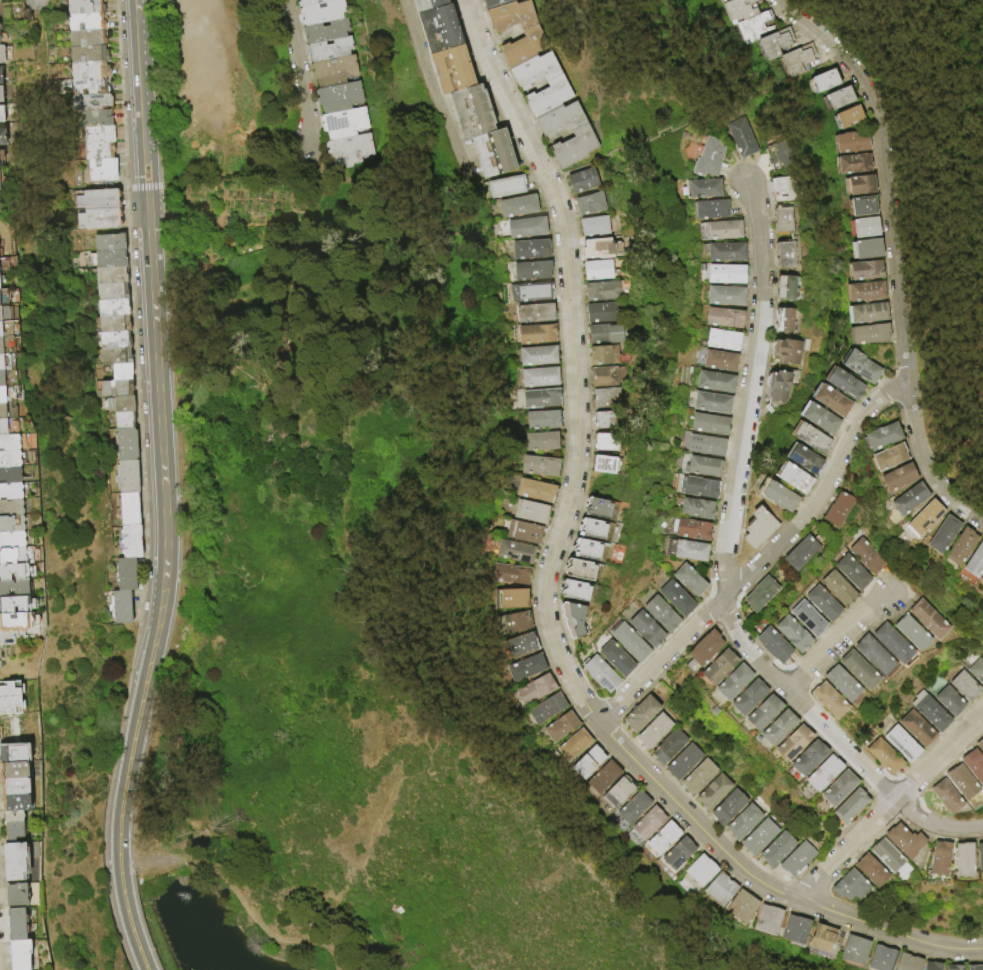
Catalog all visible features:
road: (37, 2)
building: (710, 2)
building: (312, 3)
building: (421, 4)
building: (500, 5)
building: (83, 7)
building: (322, 13)
building: (729, 14)
building: (511, 19)
building: (85, 22)
building: (434, 30)
building: (325, 32)
building: (742, 33)
building: (0, 37)
building: (86, 38)
road: (950, 46)
building: (523, 48)
building: (762, 49)
building: (328, 50)
building: (1, 54)
building: (87, 54)
park: (220, 64)
building: (785, 65)
road: (298, 68)
building: (89, 71)
building: (333, 72)
building: (533, 72)
building: (448, 73)
building: (0, 77)
building: (88, 87)
building: (812, 87)
road: (432, 93)
building: (0, 94)
building: (839, 97)
building: (338, 98)
building: (547, 98)
building: (90, 102)
building: (827, 105)
building: (1, 114)
building: (468, 115)
building: (847, 116)
building: (95, 119)
building: (559, 122)
building: (343, 124)
building: (838, 124)
building: (99, 135)
building: (2, 136)
building: (740, 139)
road: (728, 147)
building: (573, 149)
building: (842, 149)
building: (98, 151)
building: (348, 151)
building: (489, 155)
building: (776, 155)
building: (0, 159)
building: (704, 161)
building: (844, 169)
building: (101, 170)
building: (583, 181)
building: (505, 184)
building: (858, 184)
road: (144, 187)
building: (782, 191)
building: (700, 192)
building: (851, 192)
park: (935, 198)
building: (97, 201)
building: (516, 204)
building: (591, 204)
building: (708, 213)
building: (852, 213)
park: (646, 215)
building: (97, 221)
building: (781, 221)
building: (525, 226)
building: (595, 226)
building: (864, 226)
building: (720, 232)
building: (855, 235)
building: (107, 244)
building: (529, 248)
building: (598, 250)
building: (857, 251)
building: (724, 253)
building: (785, 254)
road: (895, 255)
building: (108, 261)
building: (856, 266)
building: (530, 268)
building: (597, 270)
building: (724, 274)
building: (109, 277)
building: (784, 287)
building: (856, 287)
building: (532, 289)
building: (603, 291)
building: (109, 293)
building: (724, 295)
road: (152, 308)
building: (110, 309)
building: (859, 309)
building: (533, 311)
building: (601, 312)
building: (4, 313)
building: (722, 317)
building: (781, 319)
building: (112, 325)
building: (5, 328)
building: (861, 330)
building: (535, 333)
building: (603, 334)
building: (719, 339)
building: (112, 341)
building: (1, 346)
building: (784, 351)
building: (537, 354)
building: (600, 355)
building: (113, 357)
building: (717, 359)
building: (4, 362)
building: (853, 363)
building: (119, 373)
building: (537, 375)
building: (604, 376)
building: (2, 378)
building: (836, 379)
building: (712, 381)
building: (773, 388)
building: (114, 389)
building: (7, 394)
building: (823, 396)
building: (539, 398)
building: (606, 398)
building: (708, 401)
building: (122, 405)
building: (7, 411)
building: (812, 415)
building: (540, 419)
building: (605, 420)
building: (122, 421)
building: (705, 422)
building: (8, 427)
building: (876, 433)
building: (803, 436)
building: (539, 441)
building: (604, 442)
building: (9, 443)
building: (700, 443)
building: (124, 445)
building: (881, 454)
building: (798, 458)
building: (10, 459)
building: (602, 465)
building: (699, 465)
building: (537, 466)
building: (10, 475)
building: (890, 475)
building: (788, 476)
building: (126, 477)
building: (695, 486)
road: (141, 488)
building: (532, 489)
building: (10, 491)
building: (771, 494)
building: (902, 496)
building: (690, 506)
building: (11, 508)
building: (601, 508)
building: (831, 509)
building: (127, 510)
building: (526, 510)
building: (916, 516)
building: (11, 524)
building: (752, 526)
building: (593, 528)
building: (686, 528)
building: (517, 530)
building: (934, 530)
building: (942, 533)
building: (12, 540)
building: (949, 540)
building: (129, 543)
building: (960, 546)
building: (587, 548)
building: (683, 549)
building: (508, 550)
building: (860, 550)
building: (794, 551)
building: (967, 553)
building: (16, 556)
road: (763, 558)
building: (846, 566)
building: (581, 569)
road: (723, 569)
building: (977, 570)
building: (16, 572)
building: (503, 572)
building: (124, 575)
building: (689, 579)
building: (832, 582)
road: (545, 585)
building: (15, 588)
building: (577, 590)
building: (752, 592)
building: (502, 596)
building: (677, 597)
building: (817, 598)
building: (17, 603)
building: (120, 609)
building: (661, 613)
building: (802, 613)
building: (921, 615)
building: (573, 618)
building: (17, 620)
building: (503, 620)
building: (646, 628)
building: (787, 628)
building: (904, 629)
building: (885, 639)
building: (768, 640)
building: (516, 641)
building: (629, 641)
road: (836, 641)
building: (705, 644)
building: (866, 651)
building: (616, 657)
building: (719, 663)
building: (523, 664)
building: (851, 666)
building: (974, 671)
building: (599, 672)
building: (733, 679)
building: (834, 679)
building: (961, 685)
building: (533, 686)
building: (749, 694)
building: (821, 696)
building: (12, 697)
building: (945, 700)
building: (544, 705)
building: (764, 709)
building: (639, 710)
building: (926, 710)
building: (558, 722)
building: (778, 725)
building: (650, 728)
building: (913, 728)
building: (573, 741)
building: (793, 741)
building: (665, 743)
building: (897, 743)
building: (978, 746)
building: (13, 754)
building: (810, 755)
building: (880, 756)
building: (586, 758)
building: (680, 759)
building: (971, 765)
building: (14, 770)
building: (826, 770)
building: (602, 774)
building: (696, 774)
building: (957, 781)
building: (841, 785)
building: (14, 786)
building: (617, 788)
building: (711, 789)
road: (123, 793)
building: (942, 796)
building: (15, 802)
building: (632, 804)
building: (726, 804)
building: (850, 805)
road: (888, 806)
building: (647, 820)
building: (742, 820)
building: (13, 825)
building: (662, 835)
building: (756, 835)
building: (899, 840)
building: (776, 846)
building: (679, 853)
building: (881, 854)
building: (794, 856)
building: (934, 858)
building: (977, 858)
building: (958, 860)
road: (151, 861)
building: (15, 863)
building: (700, 868)
building: (866, 869)
building: (845, 885)
building: (720, 887)
building: (16, 895)
building: (741, 904)
building: (766, 916)
building: (16, 922)
road: (257, 922)
building: (793, 925)
building: (819, 935)
building: (852, 947)
building: (20, 954)
building: (879, 956)
building: (905, 961)
building: (926, 964)
building: (949, 966)
building: (971, 966)

